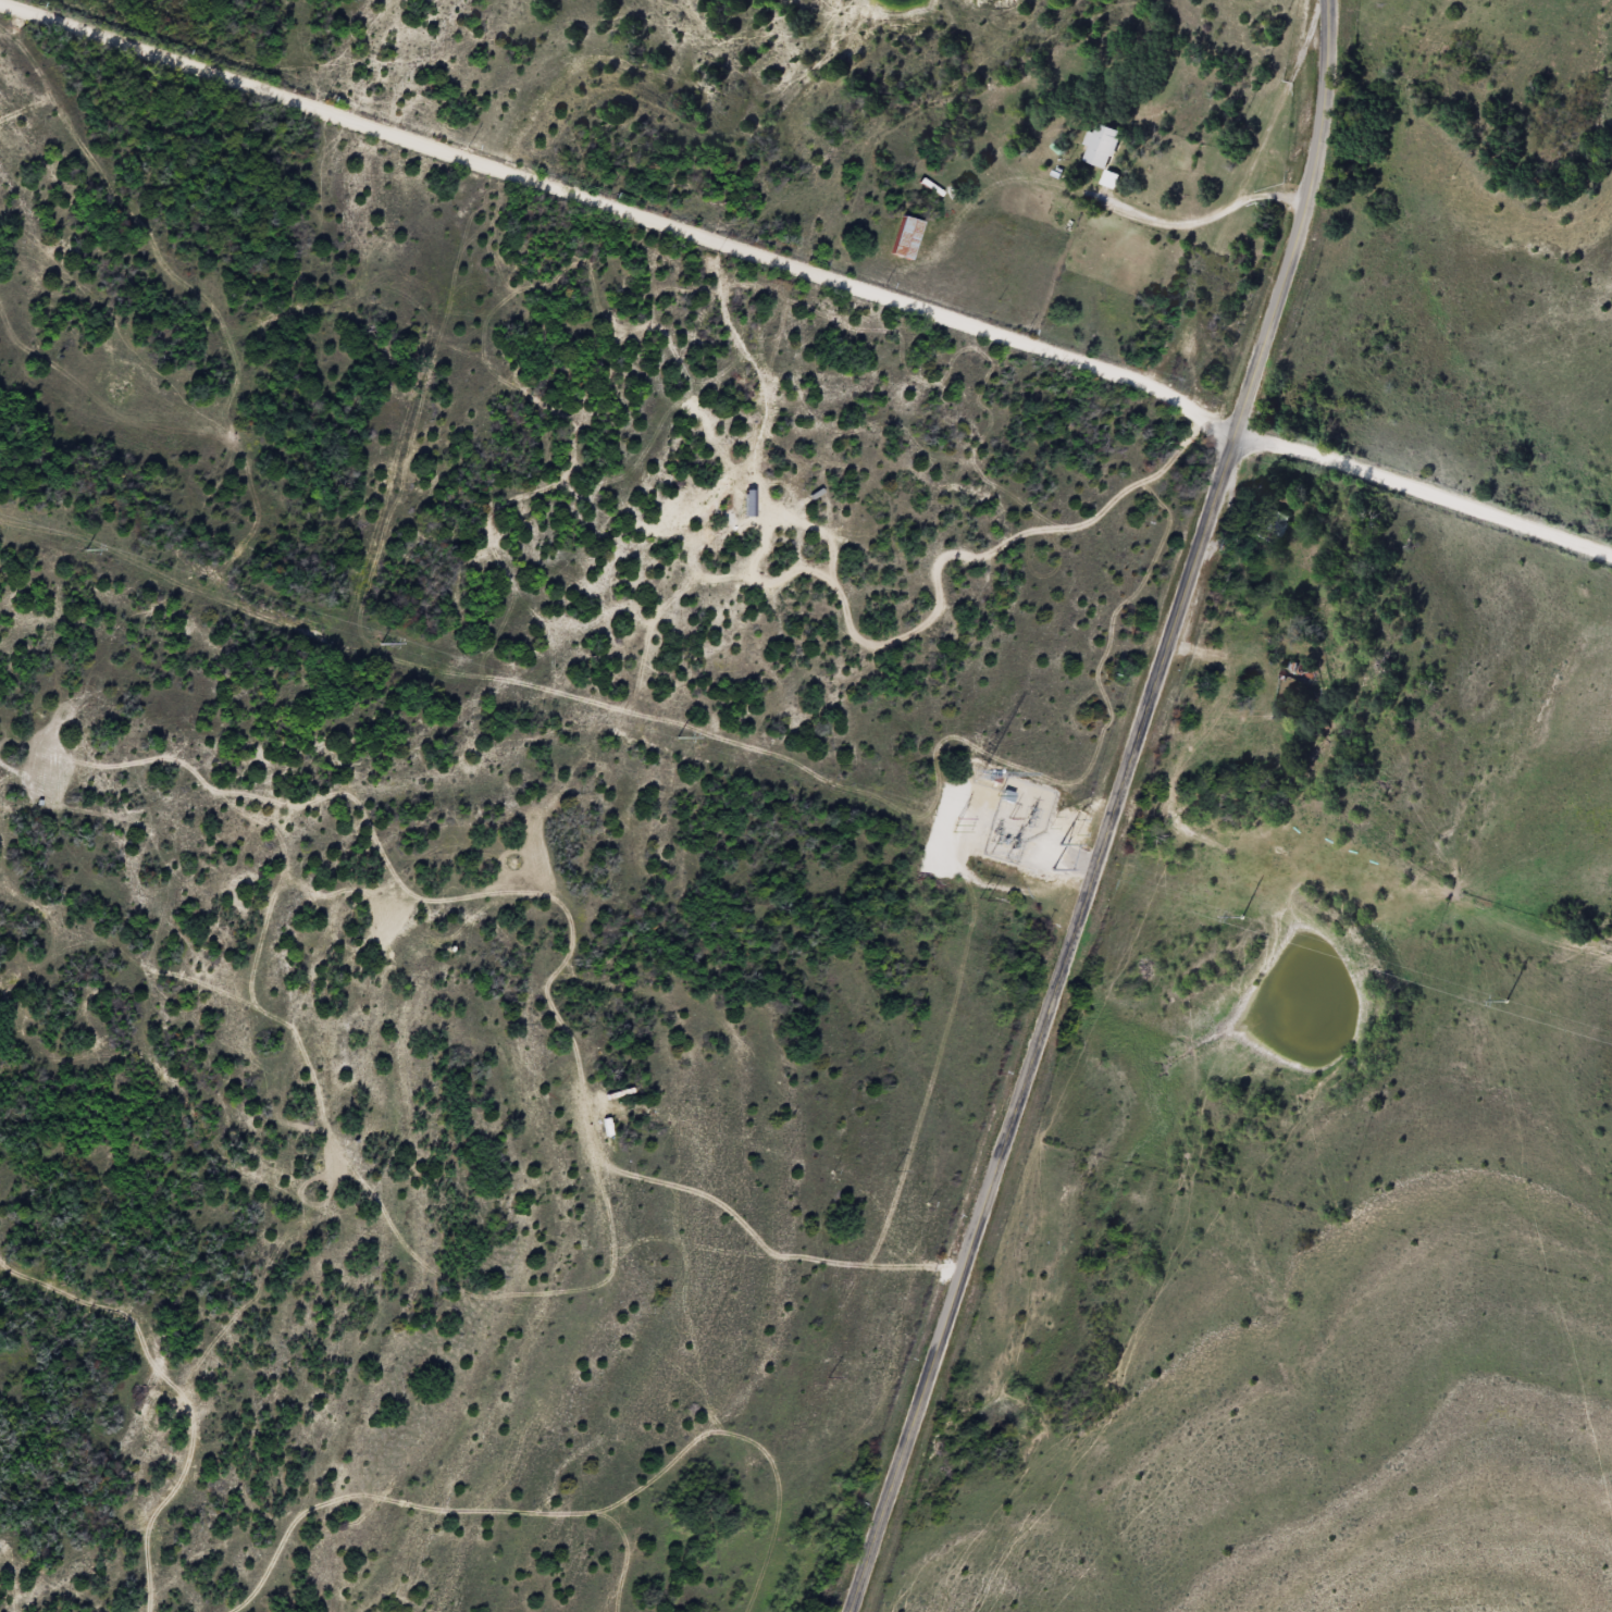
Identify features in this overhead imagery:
building: (1103, 150)
building: (906, 238)
road: (804, 287)
building: (1274, 523)
power tower: (86, 549)
power tower: (381, 644)
building: (1293, 670)
power tower: (678, 737)
building: (1007, 797)
road: (1112, 810)
power substation: (1016, 818)
power tower: (953, 826)
power tower: (1243, 916)
power tower: (1508, 1001)

